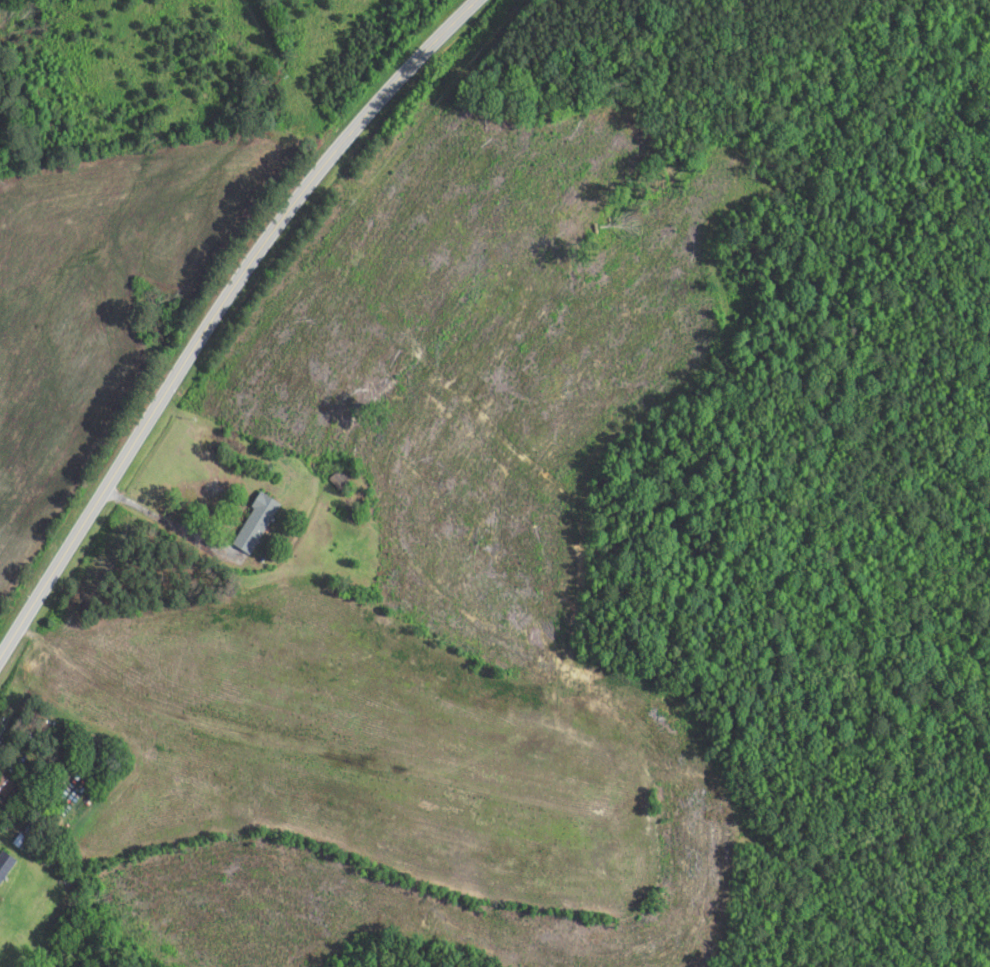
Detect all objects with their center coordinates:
road: (225, 317)
building: (255, 523)
building: (4, 786)
building: (5, 865)

